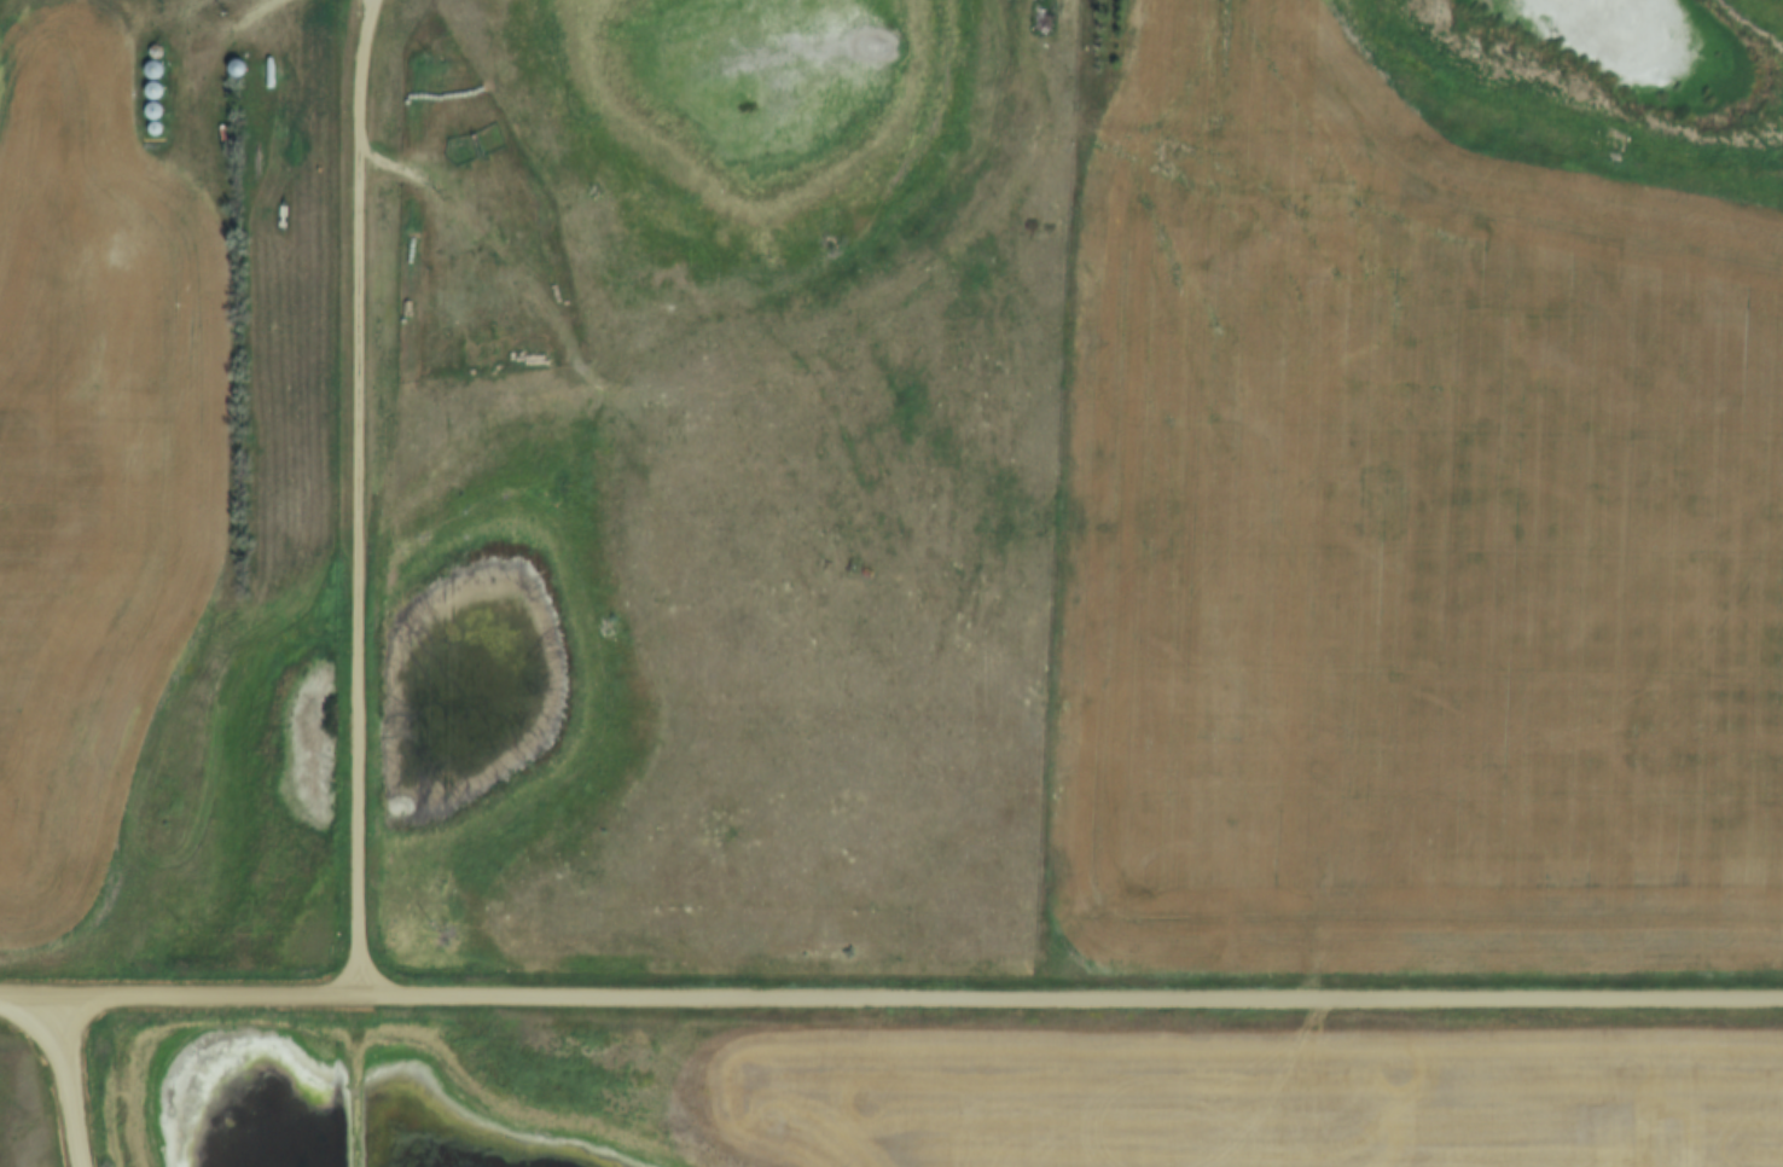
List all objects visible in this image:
road: (365, 4)
road: (366, 4)
building: (234, 66)
road: (467, 225)
road: (360, 503)
road: (891, 1000)
road: (74, 1082)

